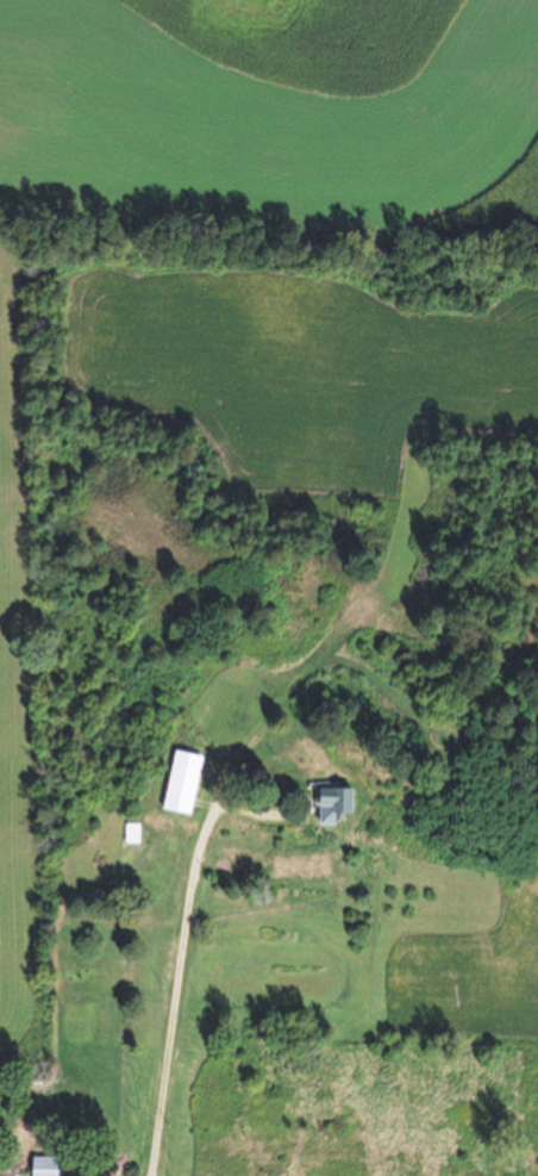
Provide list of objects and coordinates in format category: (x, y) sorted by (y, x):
building: (233, 705)
building: (175, 783)
building: (323, 803)
road: (176, 1026)
building: (42, 1166)

